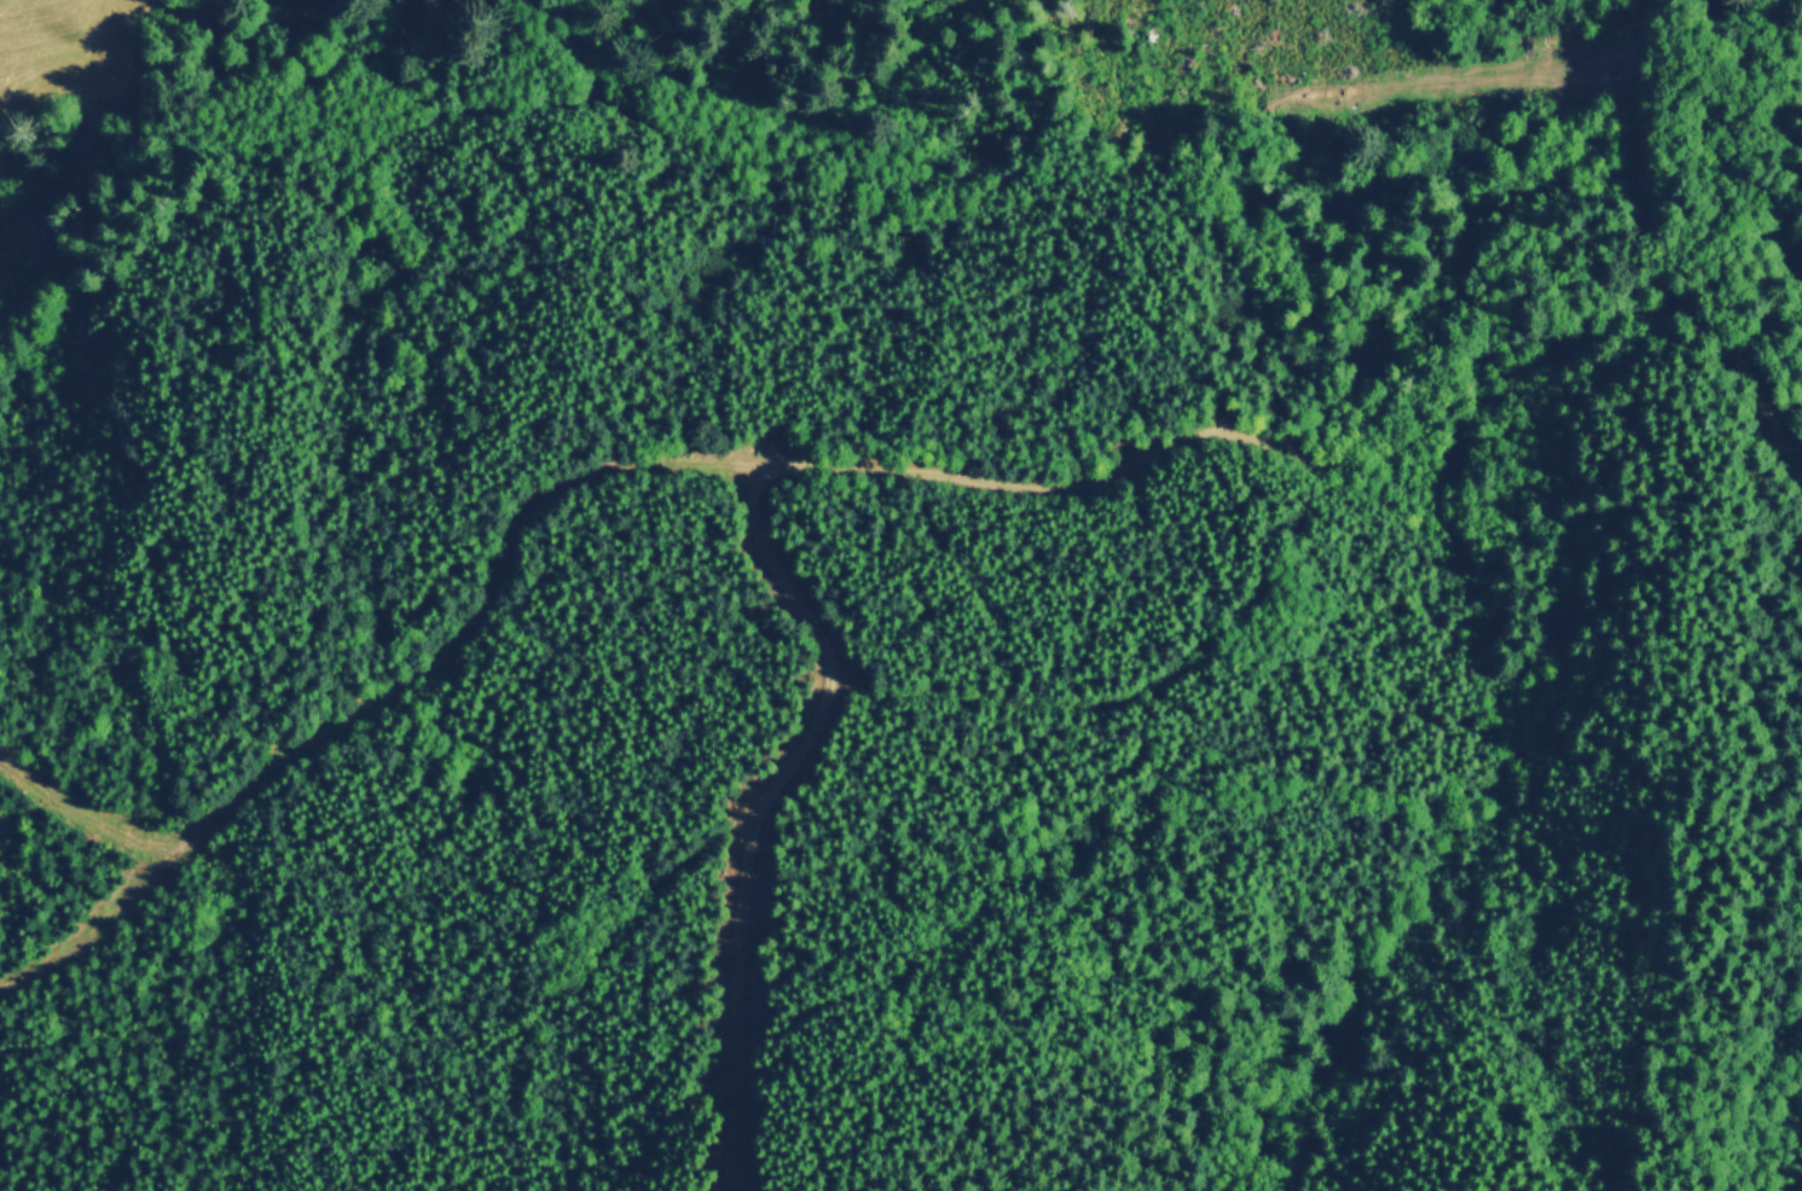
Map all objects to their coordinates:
crop: (69, 116)
road: (1658, 243)

